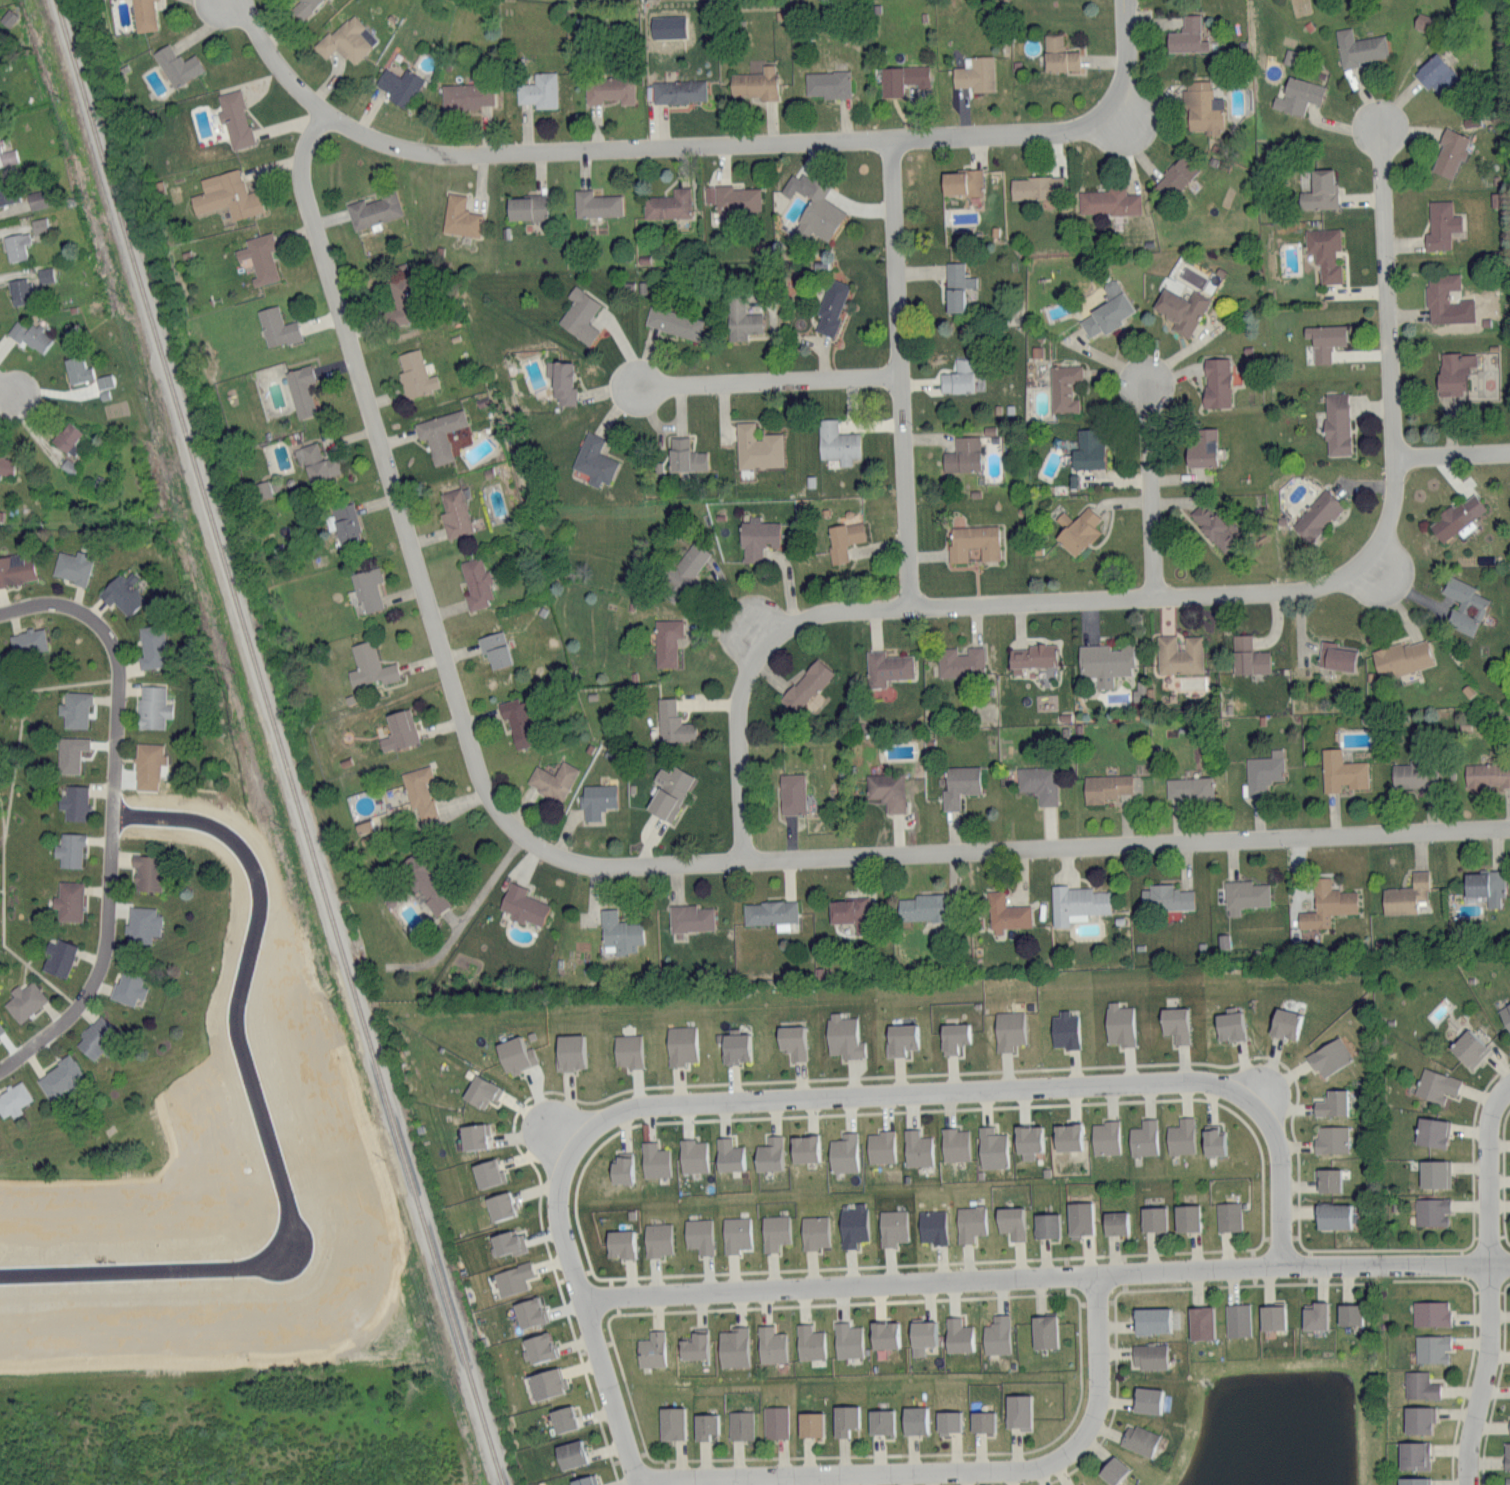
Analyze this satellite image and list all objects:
building: (303, 6)
building: (143, 14)
building: (1422, 20)
building: (1187, 34)
building: (344, 39)
building: (1361, 48)
building: (1058, 53)
building: (176, 63)
building: (1435, 71)
building: (975, 73)
building: (902, 77)
building: (754, 82)
building: (827, 82)
building: (399, 84)
building: (608, 88)
building: (538, 90)
building: (678, 90)
building: (465, 94)
building: (1298, 94)
building: (1202, 106)
building: (234, 117)
road: (693, 146)
building: (1449, 151)
building: (7, 155)
building: (1175, 175)
building: (961, 180)
building: (1036, 187)
building: (1320, 189)
building: (7, 190)
building: (226, 194)
building: (37, 197)
building: (732, 197)
building: (1108, 200)
building: (596, 203)
building: (668, 203)
building: (813, 205)
building: (526, 206)
building: (373, 208)
building: (460, 216)
building: (1441, 223)
building: (38, 224)
building: (15, 244)
building: (1324, 251)
building: (259, 256)
building: (44, 274)
building: (956, 285)
building: (18, 290)
building: (1440, 294)
building: (399, 300)
building: (831, 305)
building: (1181, 308)
building: (1107, 309)
building: (579, 314)
building: (740, 318)
building: (673, 321)
building: (276, 326)
building: (29, 334)
building: (1324, 339)
building: (76, 369)
building: (1454, 371)
building: (414, 373)
road: (897, 373)
building: (958, 376)
building: (103, 380)
building: (561, 380)
road: (767, 381)
building: (1216, 381)
road: (8, 384)
building: (1063, 386)
building: (300, 388)
building: (1336, 422)
building: (439, 433)
building: (65, 436)
building: (837, 441)
building: (756, 446)
building: (1202, 446)
building: (1088, 448)
building: (684, 454)
building: (963, 454)
road: (1451, 455)
building: (593, 459)
building: (317, 461)
building: (5, 464)
building: (262, 487)
road: (1149, 490)
road: (395, 501)
building: (454, 513)
building: (1317, 514)
building: (1457, 516)
building: (346, 522)
building: (1213, 526)
building: (1077, 529)
building: (757, 536)
building: (843, 538)
building: (973, 541)
building: (71, 565)
building: (686, 565)
building: (16, 567)
building: (476, 582)
building: (367, 587)
building: (121, 592)
road: (1285, 592)
building: (1464, 604)
building: (27, 640)
building: (666, 640)
building: (151, 646)
building: (494, 648)
building: (1179, 654)
building: (1248, 655)
building: (1336, 655)
building: (1031, 656)
building: (1401, 657)
building: (960, 661)
building: (1105, 662)
building: (369, 665)
building: (886, 667)
building: (805, 685)
building: (152, 705)
building: (74, 709)
building: (517, 721)
building: (672, 722)
building: (398, 729)
railway: (278, 742)
road: (737, 748)
building: (69, 753)
building: (147, 764)
building: (1341, 770)
building: (1263, 771)
building: (1413, 774)
building: (1487, 774)
building: (552, 779)
building: (1038, 782)
building: (959, 784)
building: (1105, 786)
building: (1189, 787)
building: (887, 789)
building: (419, 790)
building: (668, 791)
building: (791, 792)
building: (596, 799)
building: (74, 802)
building: (161, 805)
road: (112, 814)
road: (1035, 845)
building: (69, 849)
building: (145, 871)
building: (423, 882)
building: (1485, 885)
building: (1406, 894)
building: (1245, 895)
building: (1165, 896)
building: (68, 900)
building: (1077, 903)
building: (1327, 903)
building: (522, 904)
building: (922, 907)
building: (770, 912)
building: (850, 912)
building: (1006, 913)
building: (690, 917)
road: (462, 922)
building: (141, 923)
building: (618, 932)
building: (57, 956)
building: (127, 987)
building: (23, 1001)
building: (1505, 1014)
building: (1119, 1023)
building: (1174, 1023)
building: (1229, 1023)
building: (1284, 1023)
building: (1, 1028)
building: (1008, 1029)
building: (1064, 1029)
building: (95, 1036)
building: (842, 1036)
building: (953, 1036)
building: (900, 1038)
building: (791, 1040)
building: (680, 1044)
building: (735, 1046)
building: (1468, 1047)
building: (626, 1050)
building: (570, 1051)
building: (515, 1054)
building: (1329, 1056)
building: (59, 1077)
road: (790, 1079)
building: (1435, 1085)
road: (951, 1089)
building: (480, 1091)
building: (13, 1098)
building: (1332, 1102)
road: (817, 1114)
road: (258, 1117)
road: (564, 1131)
building: (1432, 1131)
building: (473, 1135)
building: (1067, 1136)
building: (1180, 1136)
building: (1105, 1137)
building: (1143, 1138)
building: (1331, 1138)
building: (1212, 1140)
building: (1028, 1141)
building: (955, 1144)
building: (880, 1146)
road: (1260, 1146)
building: (805, 1148)
building: (917, 1148)
building: (991, 1148)
building: (843, 1153)
building: (769, 1154)
building: (692, 1155)
building: (728, 1155)
building: (654, 1159)
building: (621, 1168)
building: (487, 1173)
building: (1434, 1173)
road: (1505, 1176)
building: (1328, 1179)
building: (499, 1205)
building: (1431, 1211)
building: (1333, 1215)
building: (1228, 1216)
road: (1282, 1216)
building: (1186, 1217)
building: (1079, 1218)
building: (1153, 1218)
building: (1010, 1221)
building: (1115, 1222)
building: (969, 1223)
building: (1046, 1224)
building: (853, 1225)
building: (892, 1226)
building: (931, 1226)
building: (774, 1231)
building: (814, 1231)
building: (736, 1233)
building: (699, 1235)
building: (657, 1239)
road: (1262, 1240)
road: (1472, 1240)
building: (507, 1242)
building: (619, 1243)
road: (1164, 1252)
road: (847, 1266)
road: (1046, 1275)
building: (513, 1278)
road: (608, 1278)
road: (1383, 1280)
road: (1469, 1282)
road: (1491, 1282)
road: (1279, 1283)
road: (1180, 1288)
road: (1068, 1292)
road: (1114, 1301)
road: (834, 1304)
road: (586, 1309)
building: (529, 1311)
building: (1431, 1313)
building: (1349, 1314)
building: (1314, 1315)
building: (1272, 1317)
building: (1237, 1319)
building: (1151, 1320)
building: (1200, 1322)
road: (609, 1327)
building: (1044, 1331)
building: (884, 1334)
building: (957, 1335)
building: (996, 1335)
building: (921, 1336)
building: (847, 1340)
building: (809, 1342)
building: (694, 1344)
building: (771, 1344)
building: (733, 1346)
building: (539, 1347)
building: (1431, 1348)
building: (651, 1349)
building: (1148, 1355)
road: (1116, 1379)
building: (546, 1382)
road: (1498, 1383)
building: (1420, 1386)
road: (1466, 1386)
road: (631, 1399)
building: (1146, 1399)
building: (1018, 1410)
building: (562, 1418)
building: (844, 1419)
building: (1418, 1419)
building: (914, 1420)
building: (880, 1421)
building: (982, 1421)
building: (775, 1422)
building: (947, 1422)
building: (670, 1423)
building: (810, 1424)
building: (740, 1425)
building: (1509, 1425)
building: (704, 1426)
building: (1138, 1439)
road: (938, 1453)
building: (569, 1454)
building: (1413, 1455)
building: (1506, 1455)
road: (655, 1459)
road: (946, 1467)
building: (1113, 1470)
road: (1069, 1473)
building: (583, 1480)
building: (1413, 1481)
building: (1507, 1481)

